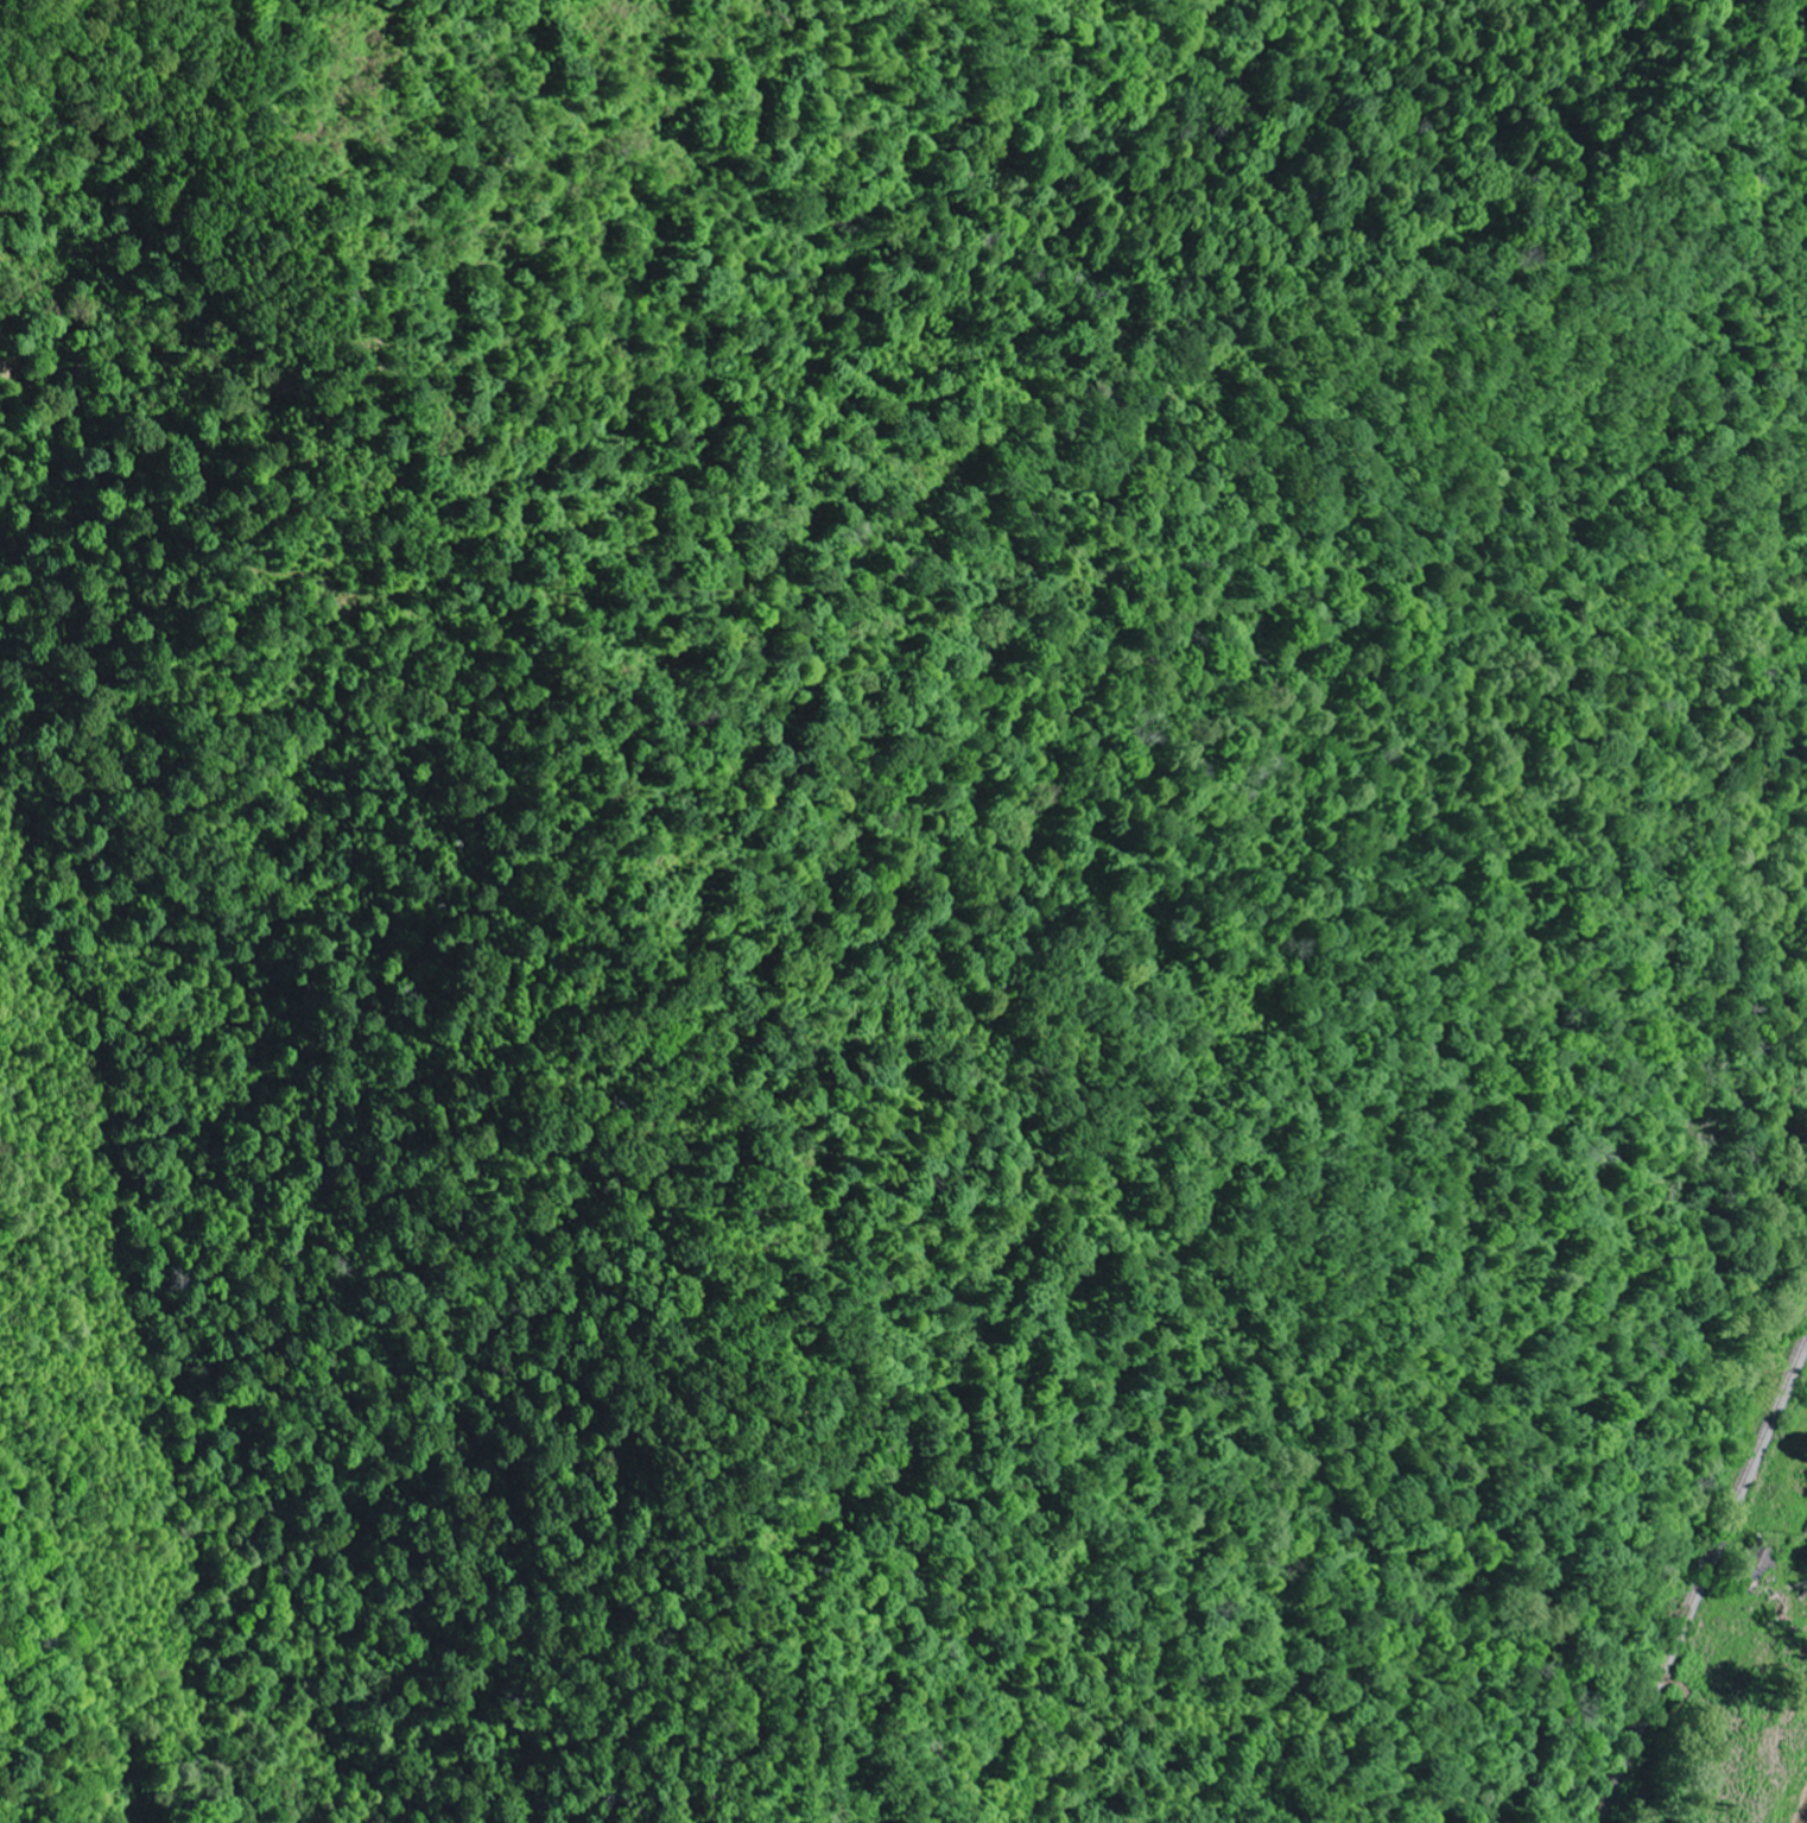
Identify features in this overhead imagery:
building: (1756, 1564)
railway: (1704, 1574)

